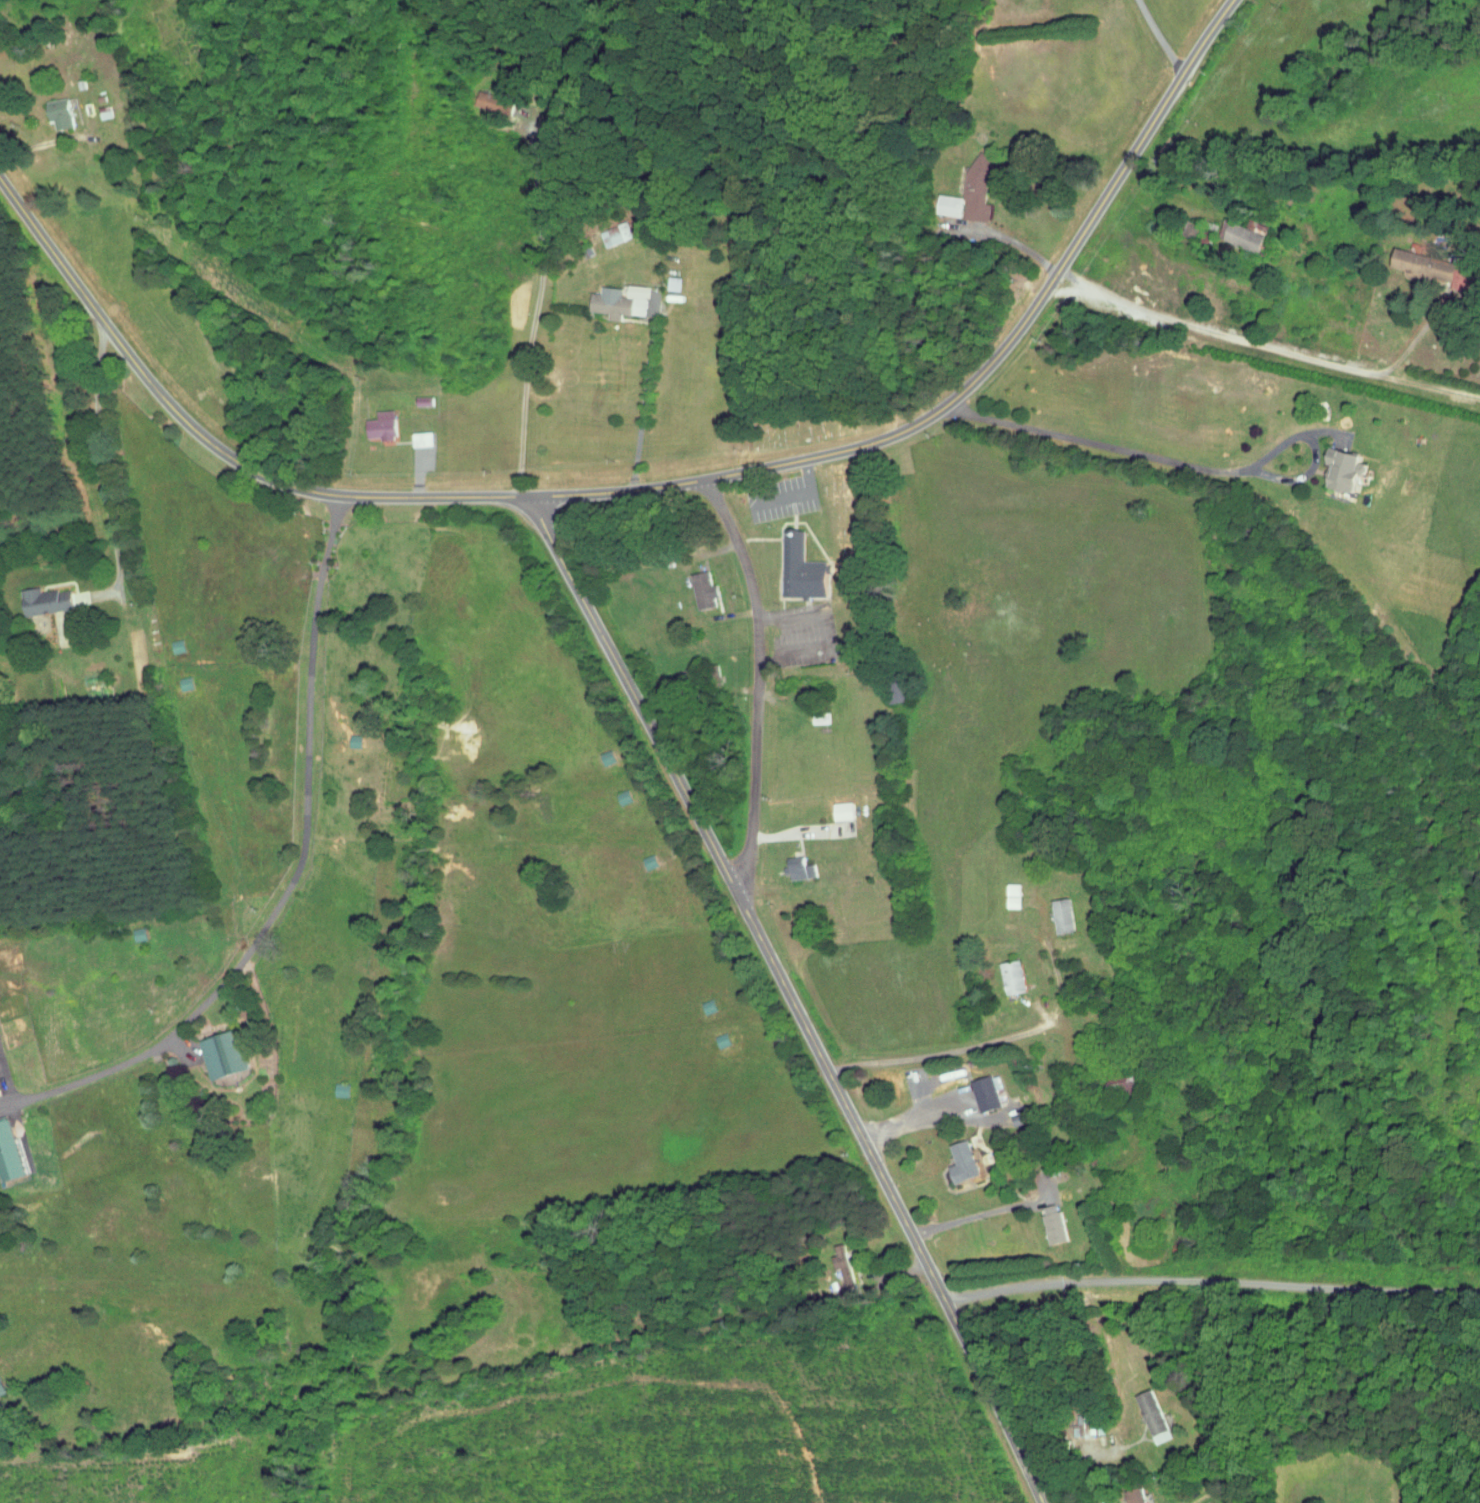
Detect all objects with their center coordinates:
road: (1163, 37)
building: (489, 100)
building: (58, 112)
road: (40, 139)
building: (977, 187)
road: (1190, 195)
building: (948, 205)
building: (1254, 226)
building: (1189, 229)
building: (615, 234)
building: (1239, 236)
building: (1429, 267)
building: (670, 283)
road: (539, 298)
building: (618, 301)
road: (1219, 334)
road: (897, 394)
road: (642, 398)
building: (422, 401)
building: (380, 426)
building: (420, 439)
road: (438, 444)
road: (1181, 461)
building: (1342, 469)
road: (659, 486)
road: (110, 489)
road: (785, 496)
building: (799, 568)
building: (703, 590)
building: (45, 601)
building: (176, 646)
road: (737, 677)
road: (759, 684)
road: (787, 739)
building: (354, 741)
building: (606, 757)
building: (622, 796)
building: (841, 811)
road: (782, 822)
building: (649, 862)
building: (799, 868)
road: (779, 873)
road: (294, 878)
building: (1061, 916)
building: (138, 933)
road: (777, 934)
building: (1011, 977)
road: (791, 996)
building: (707, 1006)
building: (721, 1040)
road: (930, 1049)
building: (222, 1055)
road: (919, 1063)
road: (7, 1076)
building: (1119, 1082)
building: (340, 1090)
building: (988, 1092)
road: (903, 1134)
building: (9, 1154)
building: (961, 1162)
road: (976, 1215)
building: (1052, 1225)
road: (875, 1248)
building: (842, 1265)
road: (1212, 1282)
building: (1, 1388)
building: (1152, 1415)
road: (1109, 1449)
road: (1088, 1461)
building: (1134, 1495)

